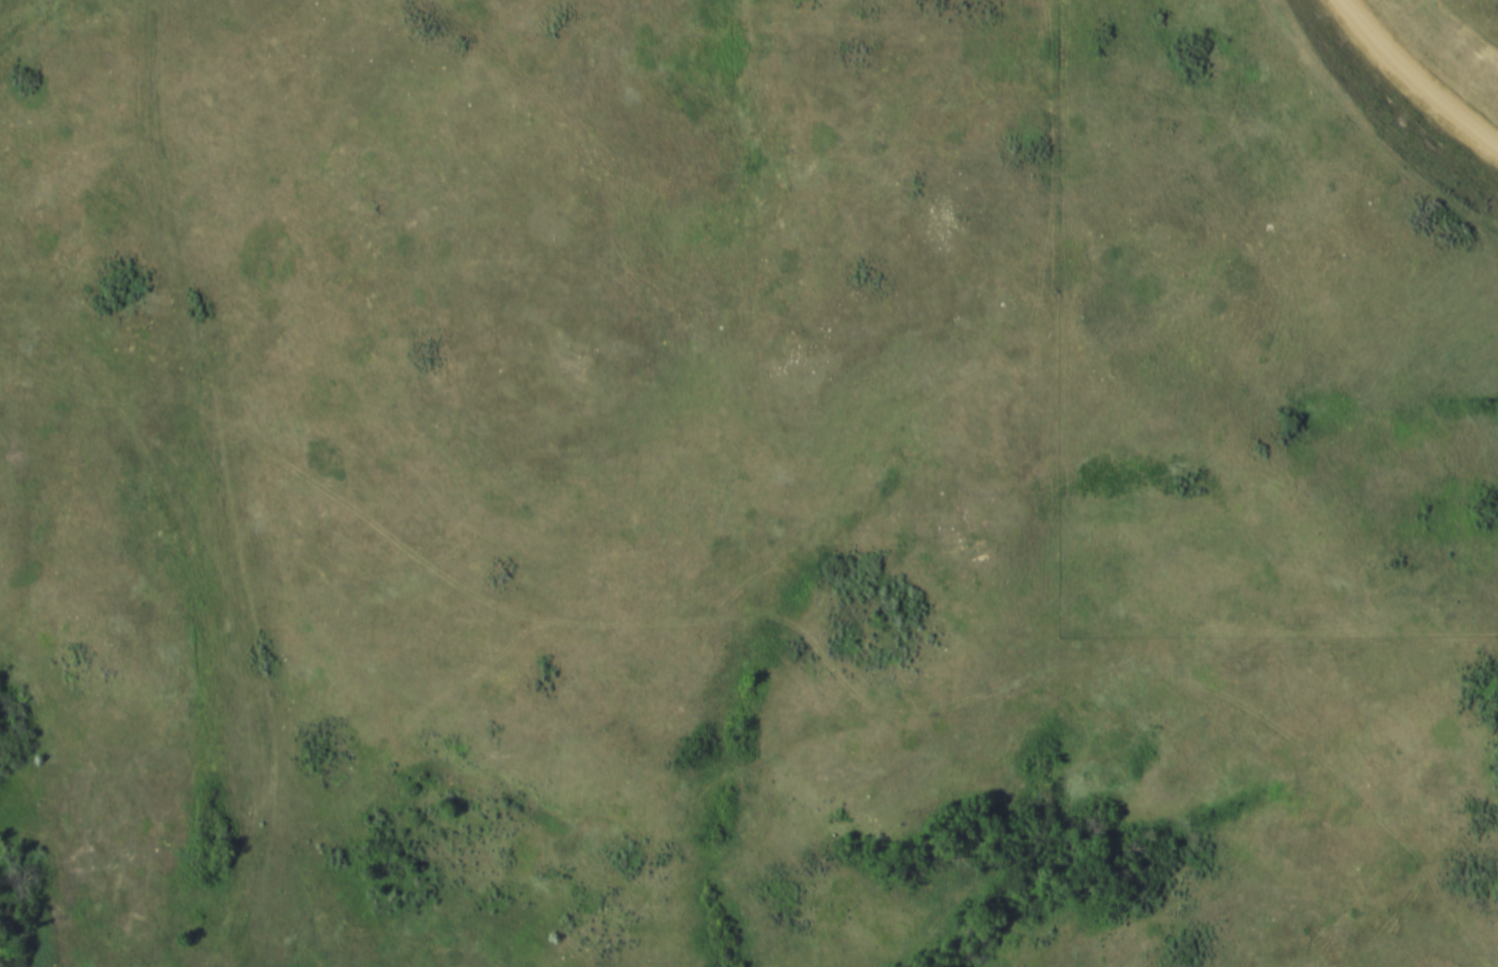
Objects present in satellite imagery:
road: (1411, 85)
road: (219, 485)

